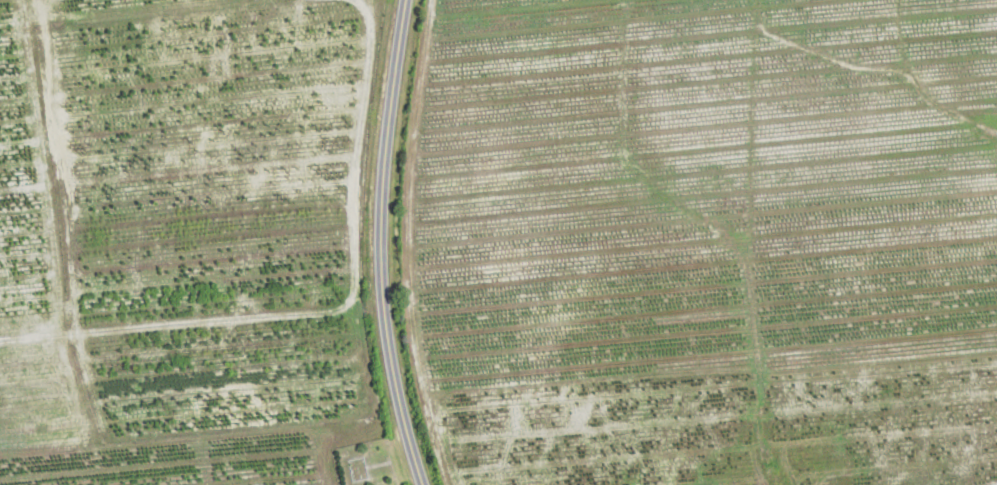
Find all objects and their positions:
road: (380, 243)

